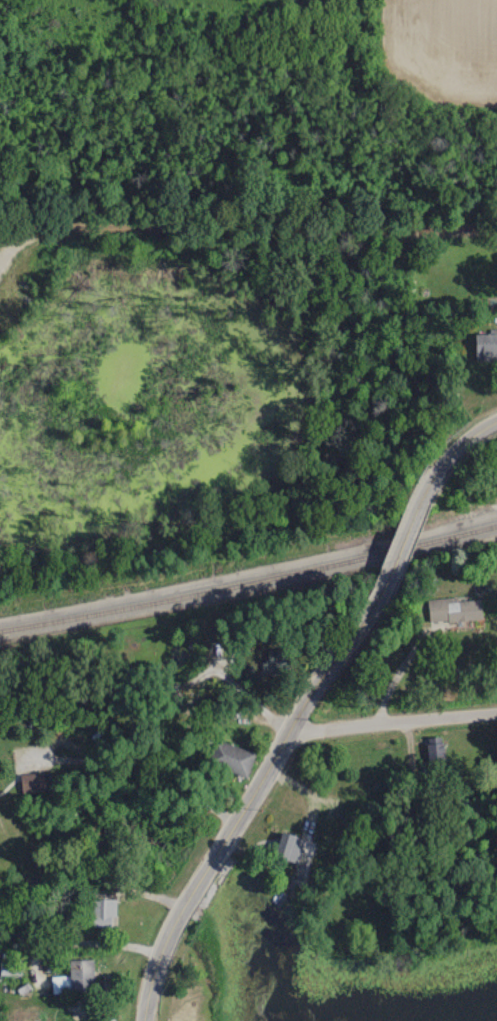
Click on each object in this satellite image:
road: (248, 227)
building: (485, 345)
road: (449, 457)
road: (397, 545)
railway: (249, 580)
building: (453, 609)
building: (276, 658)
road: (397, 674)
road: (393, 721)
building: (434, 751)
building: (228, 757)
road: (119, 767)
building: (30, 782)
building: (444, 797)
road: (252, 798)
river: (108, 844)
building: (288, 847)
building: (102, 912)
road: (112, 966)
building: (75, 978)

